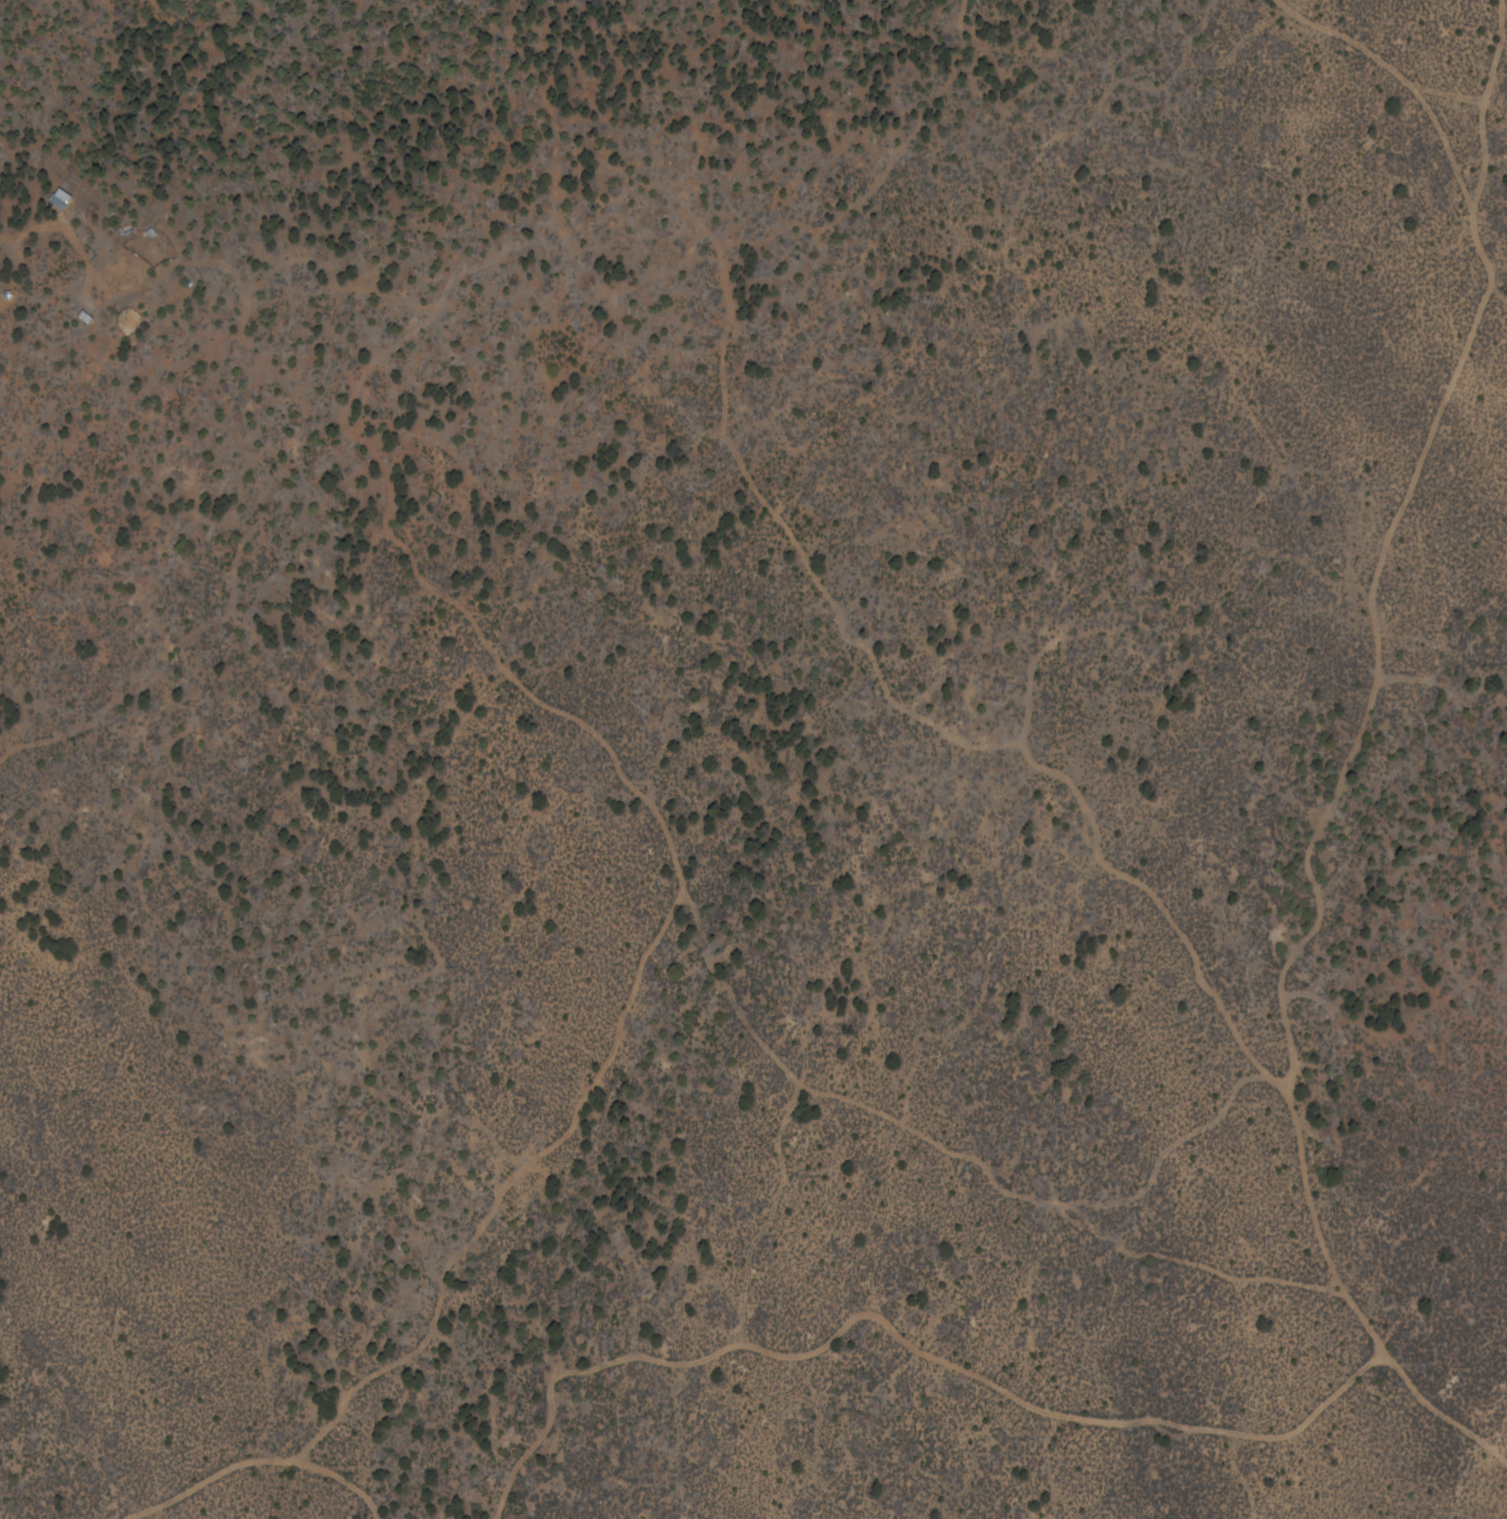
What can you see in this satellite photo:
road: (798, 1325)

